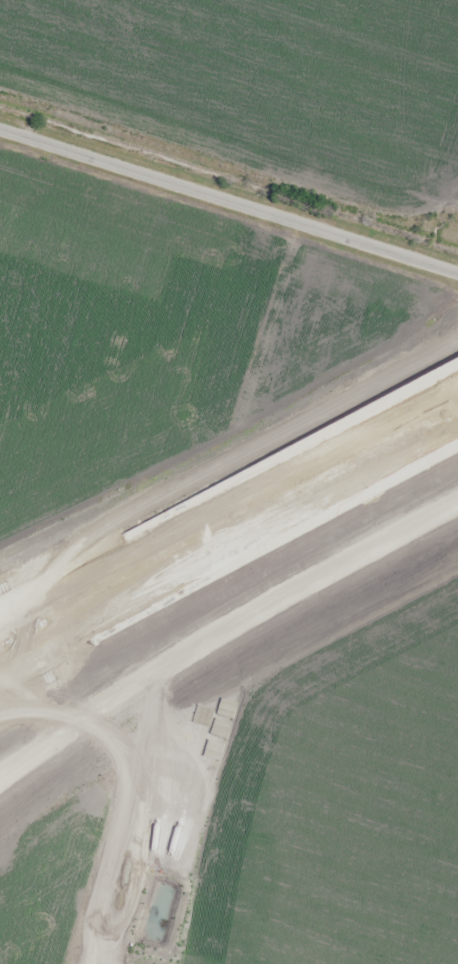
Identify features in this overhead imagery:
crop: (259, 88)
road: (229, 204)
road: (229, 490)
road: (228, 559)
road: (224, 638)

